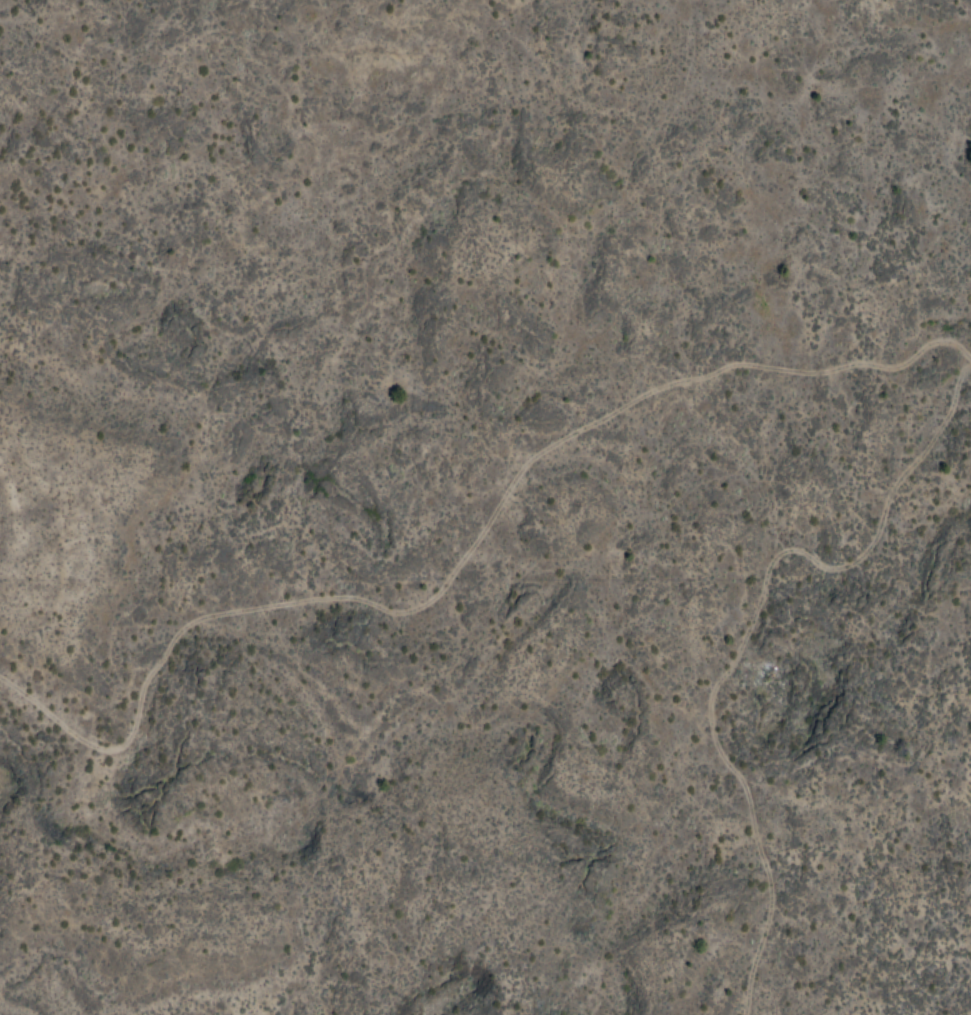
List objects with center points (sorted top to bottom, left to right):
road: (464, 564)
road: (749, 640)

